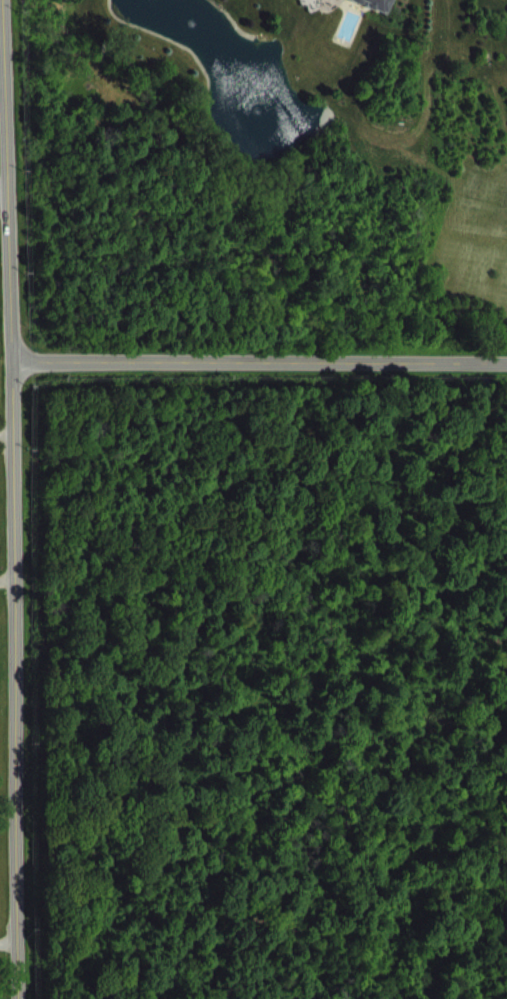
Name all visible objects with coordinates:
building: (357, 9)
road: (1, 195)
road: (257, 362)
road: (5, 432)
road: (13, 538)
road: (9, 941)

